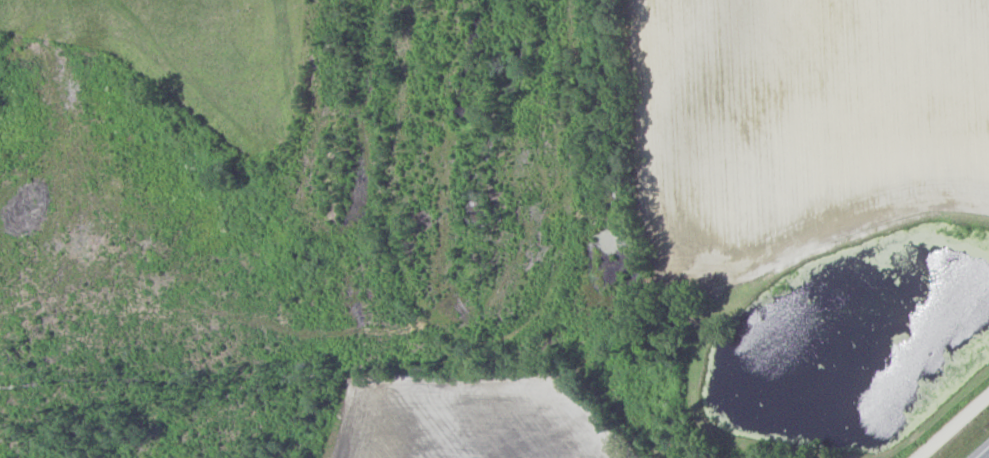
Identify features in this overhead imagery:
road: (957, 430)

